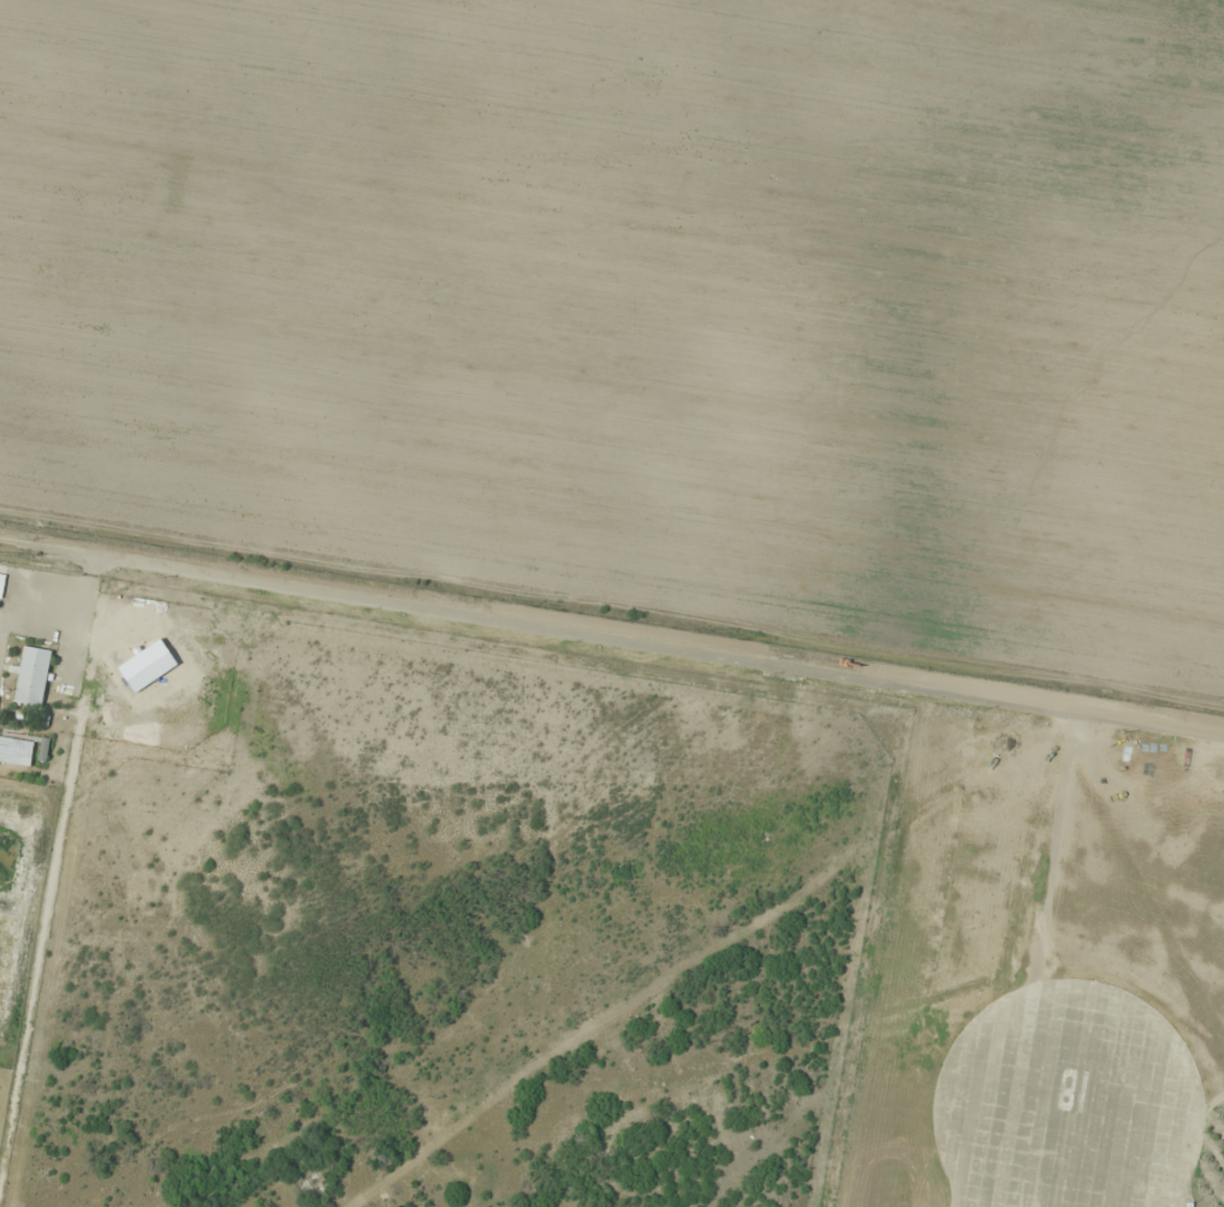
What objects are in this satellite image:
building: (1, 583)
road: (612, 637)
building: (31, 676)
building: (16, 751)
airport: (578, 910)
airport runway: (1068, 1152)
airport taxiway: (1115, 1152)

